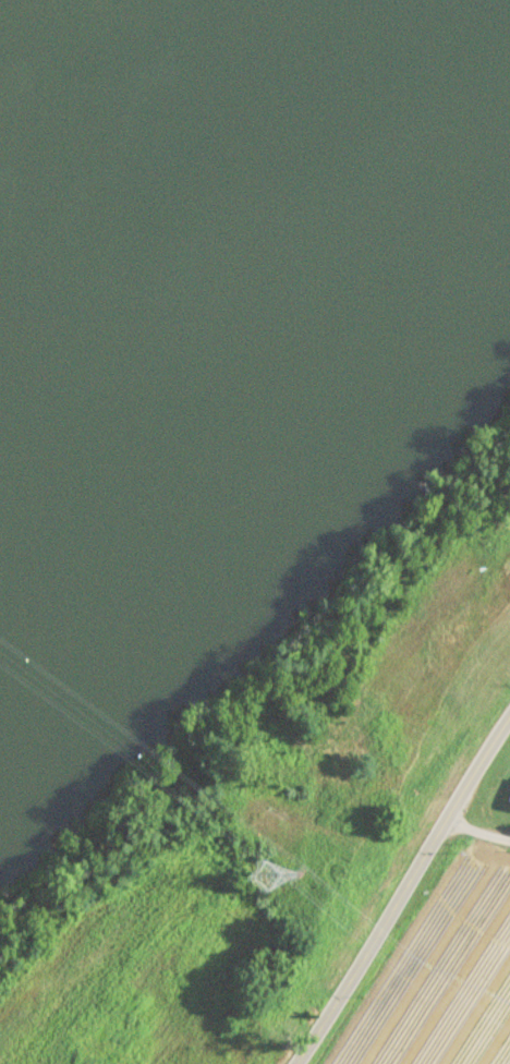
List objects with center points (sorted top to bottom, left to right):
river: (129, 117)
building: (508, 801)
crop: (306, 838)
power tower: (266, 883)
road: (389, 916)

